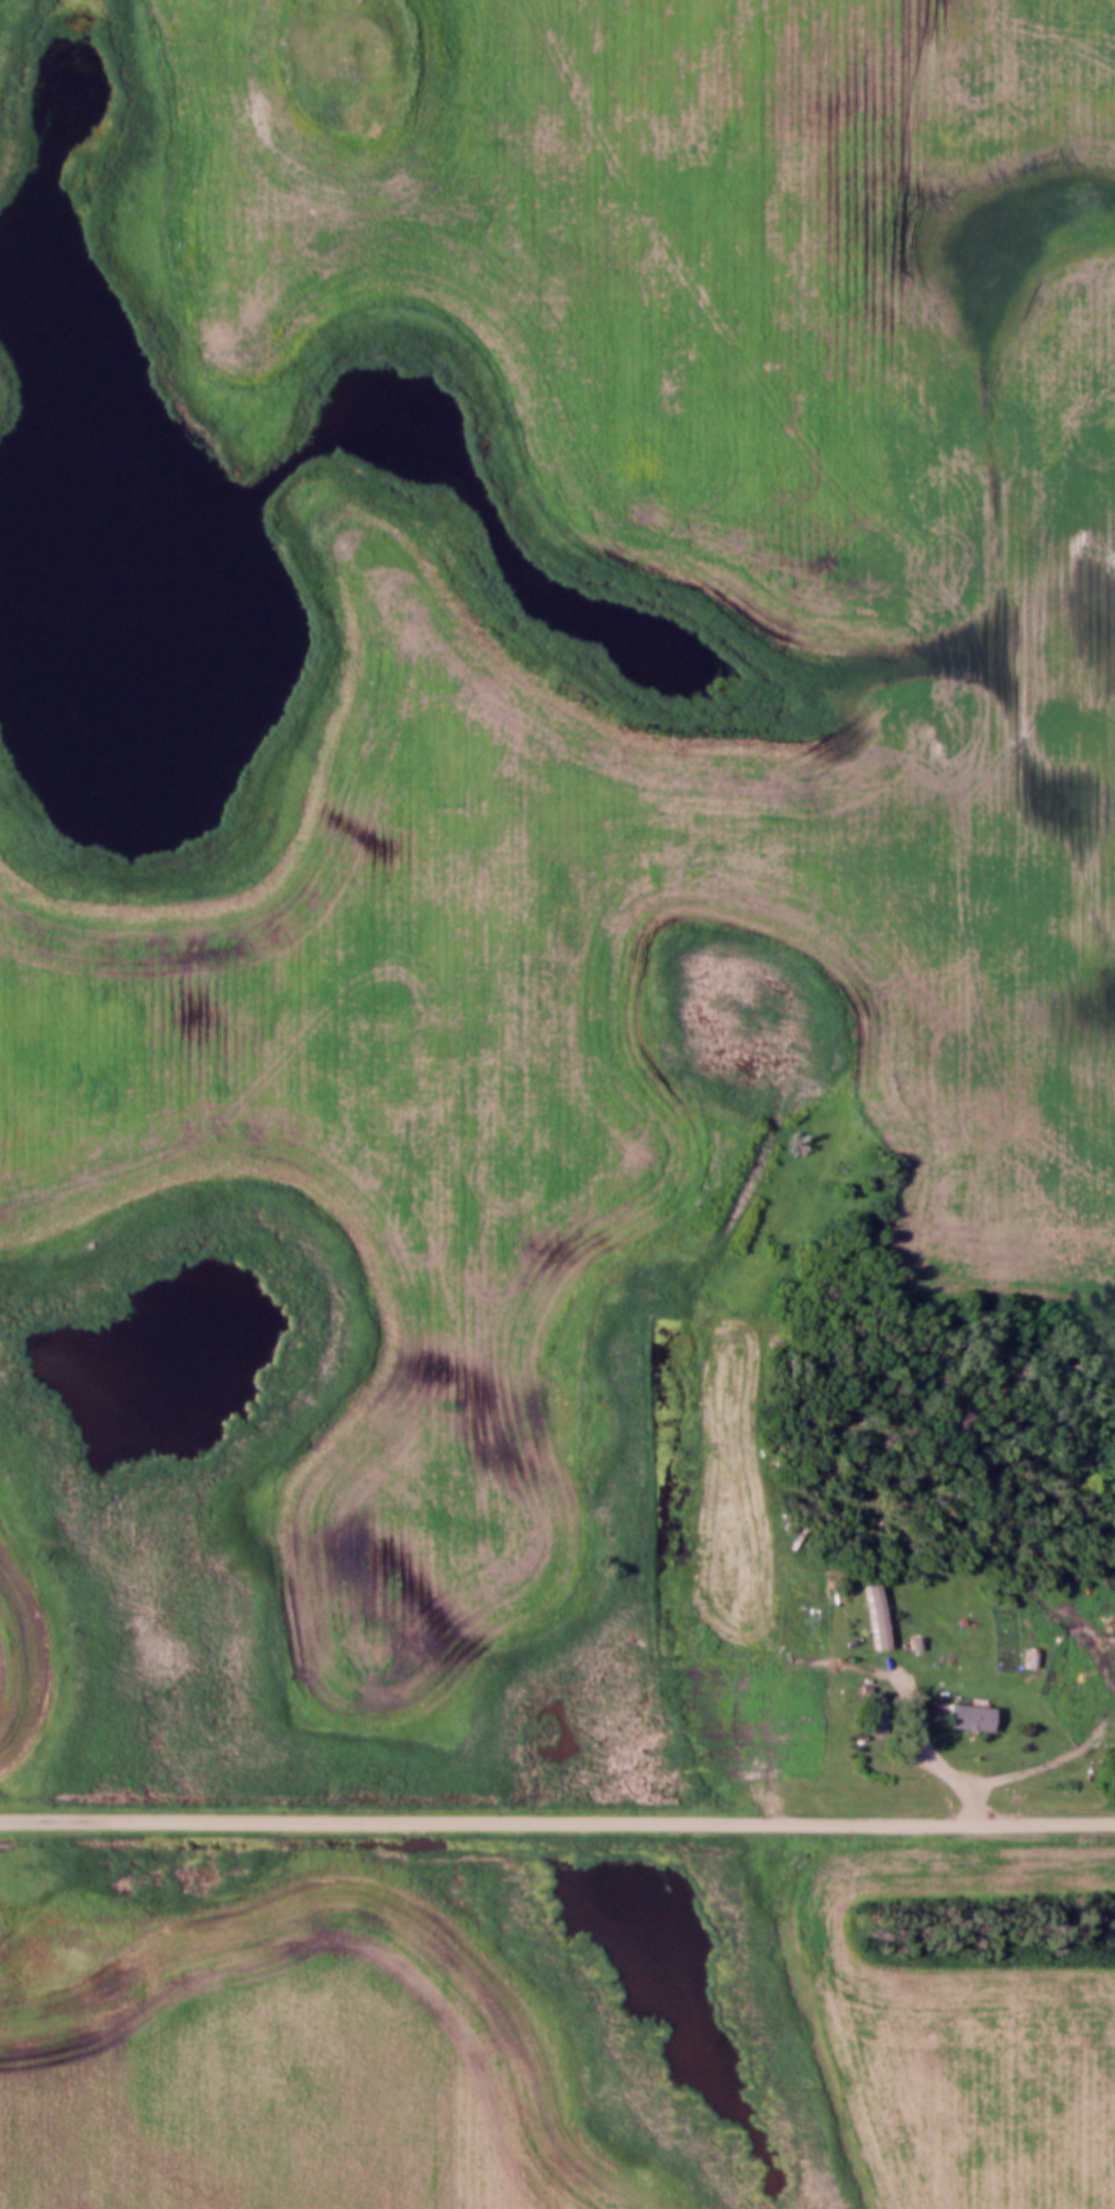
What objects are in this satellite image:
building: (879, 1619)
building: (1035, 1664)
building: (967, 1721)
road: (934, 1763)
road: (557, 1821)

